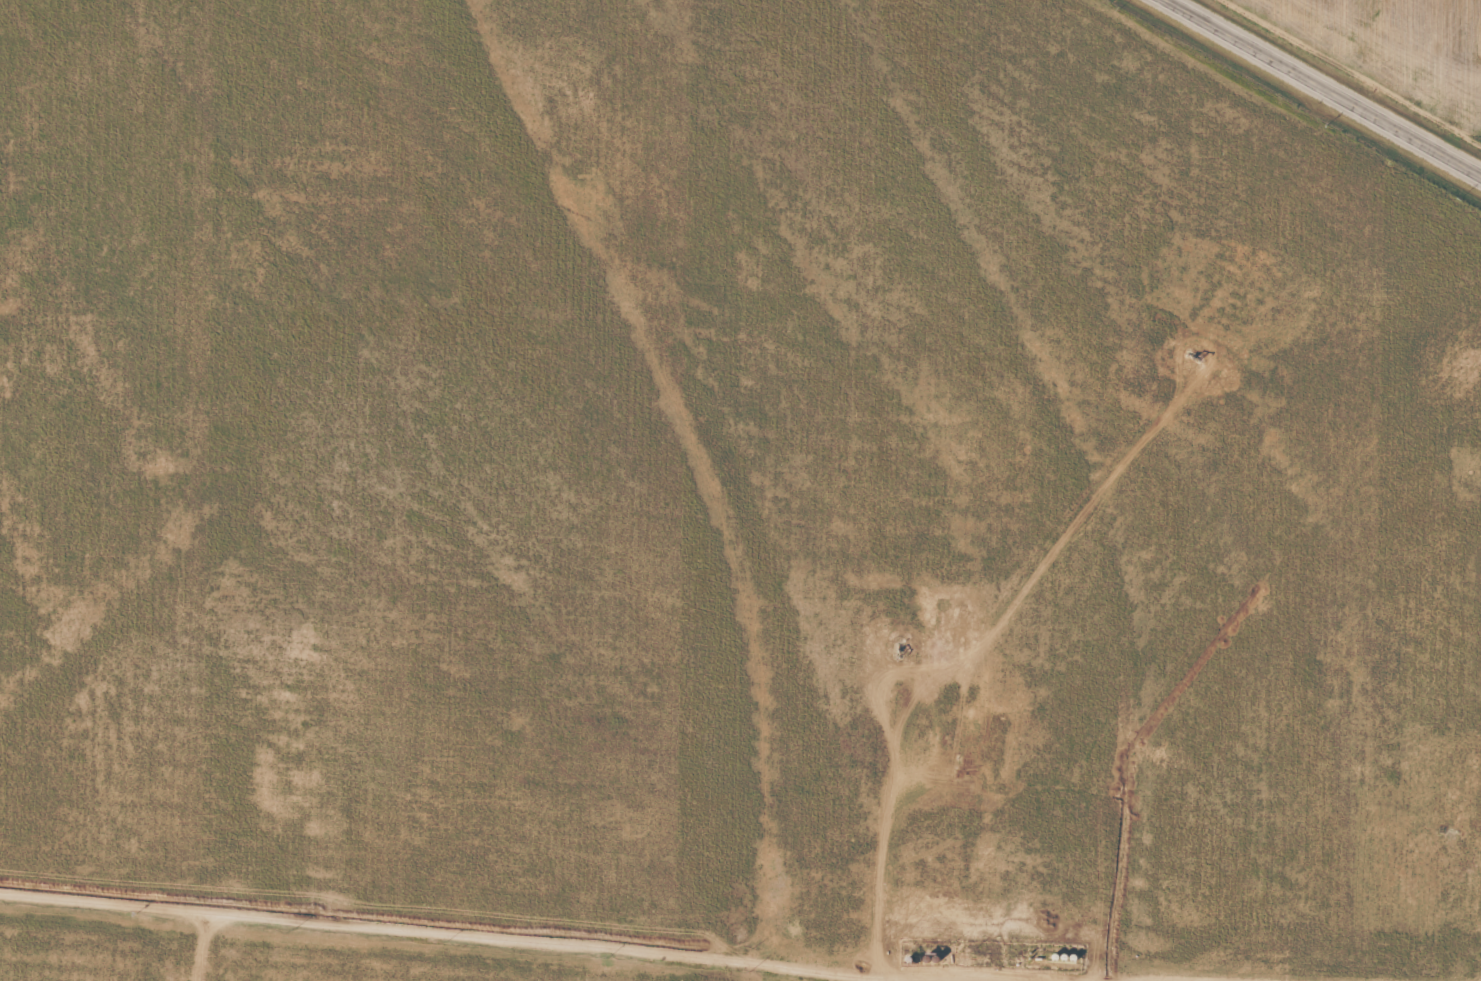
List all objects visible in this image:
road: (1325, 86)
road: (740, 588)
road: (581, 923)

